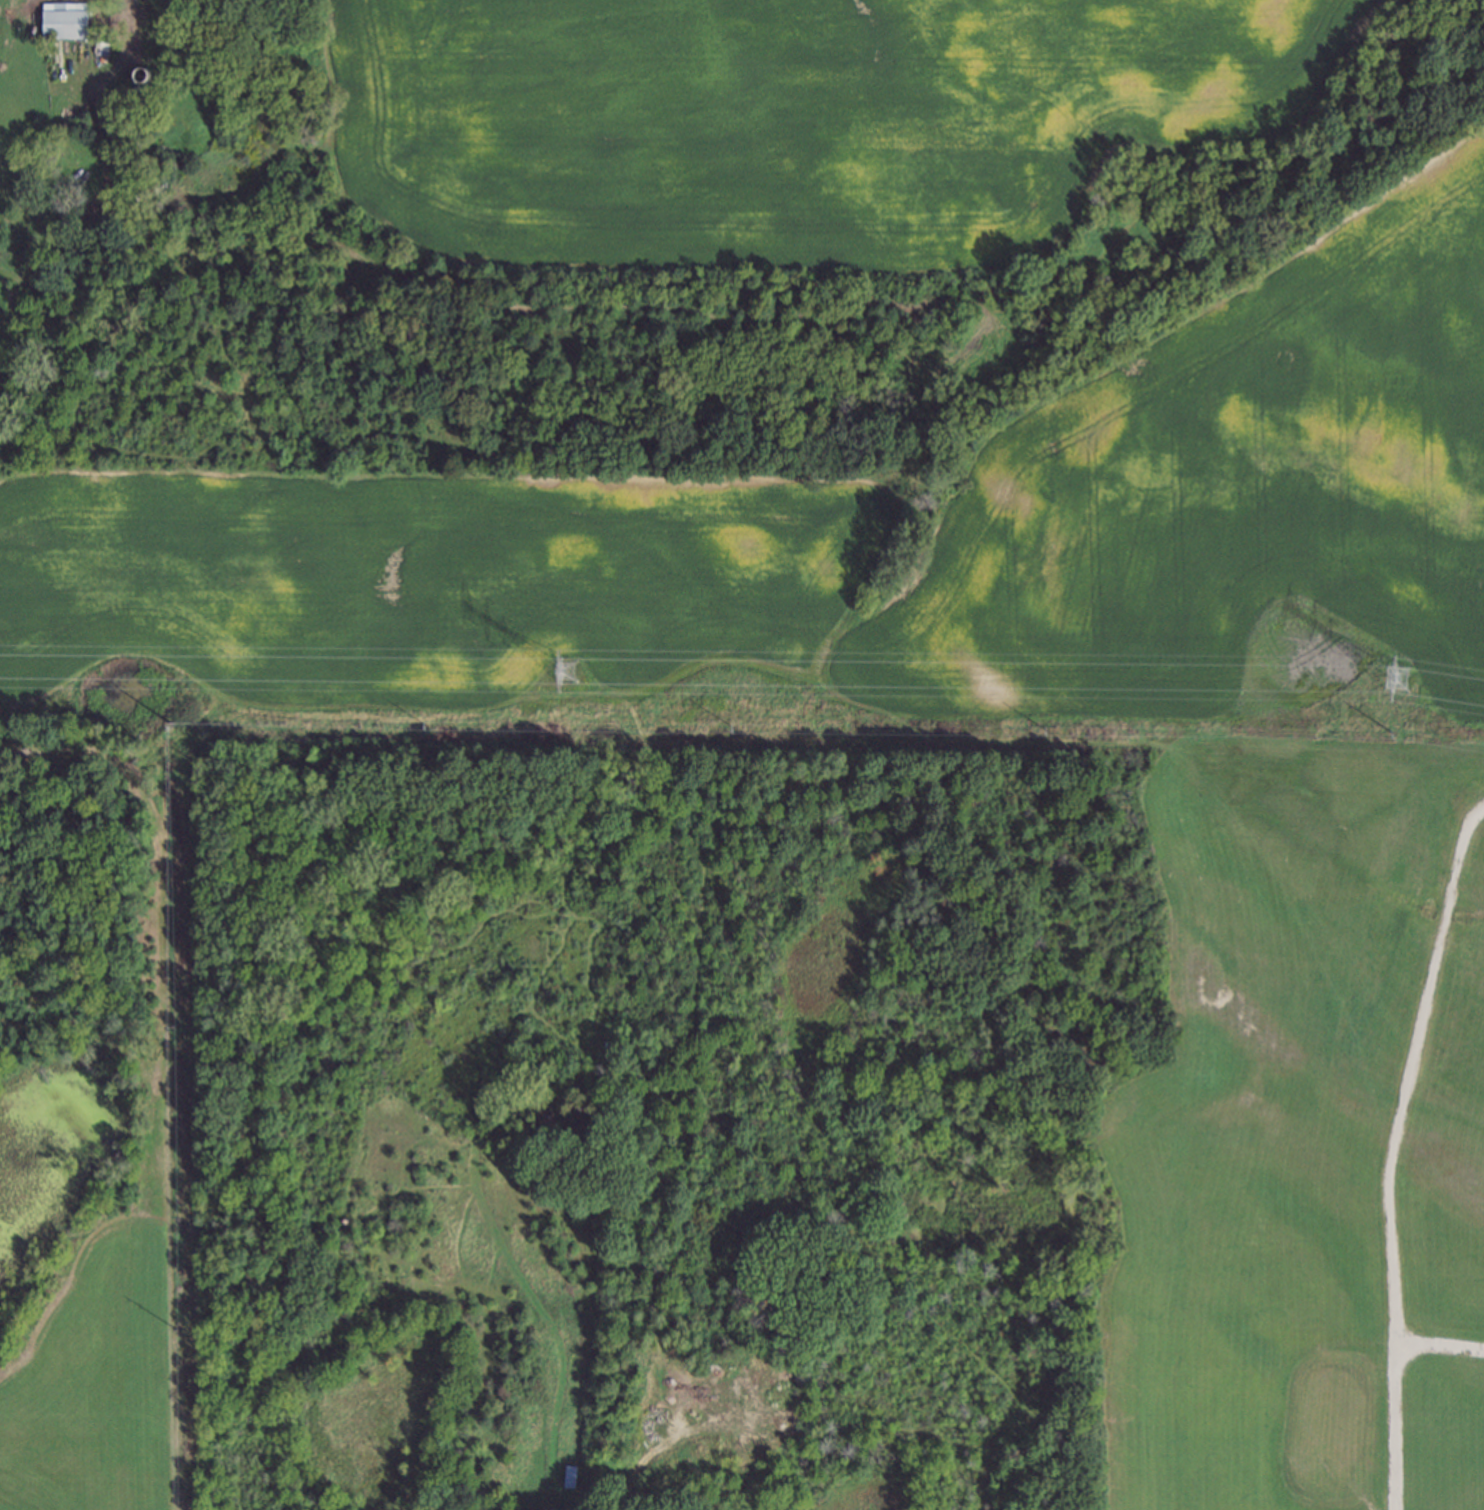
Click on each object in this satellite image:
building: (61, 22)
building: (139, 72)
power tower: (567, 677)
power tower: (1398, 686)
power tower: (169, 722)
power tower: (1392, 732)
road: (1391, 1149)
road: (1439, 1345)
road: (1179, 1347)
parking lot: (1299, 1433)
building: (572, 1478)

